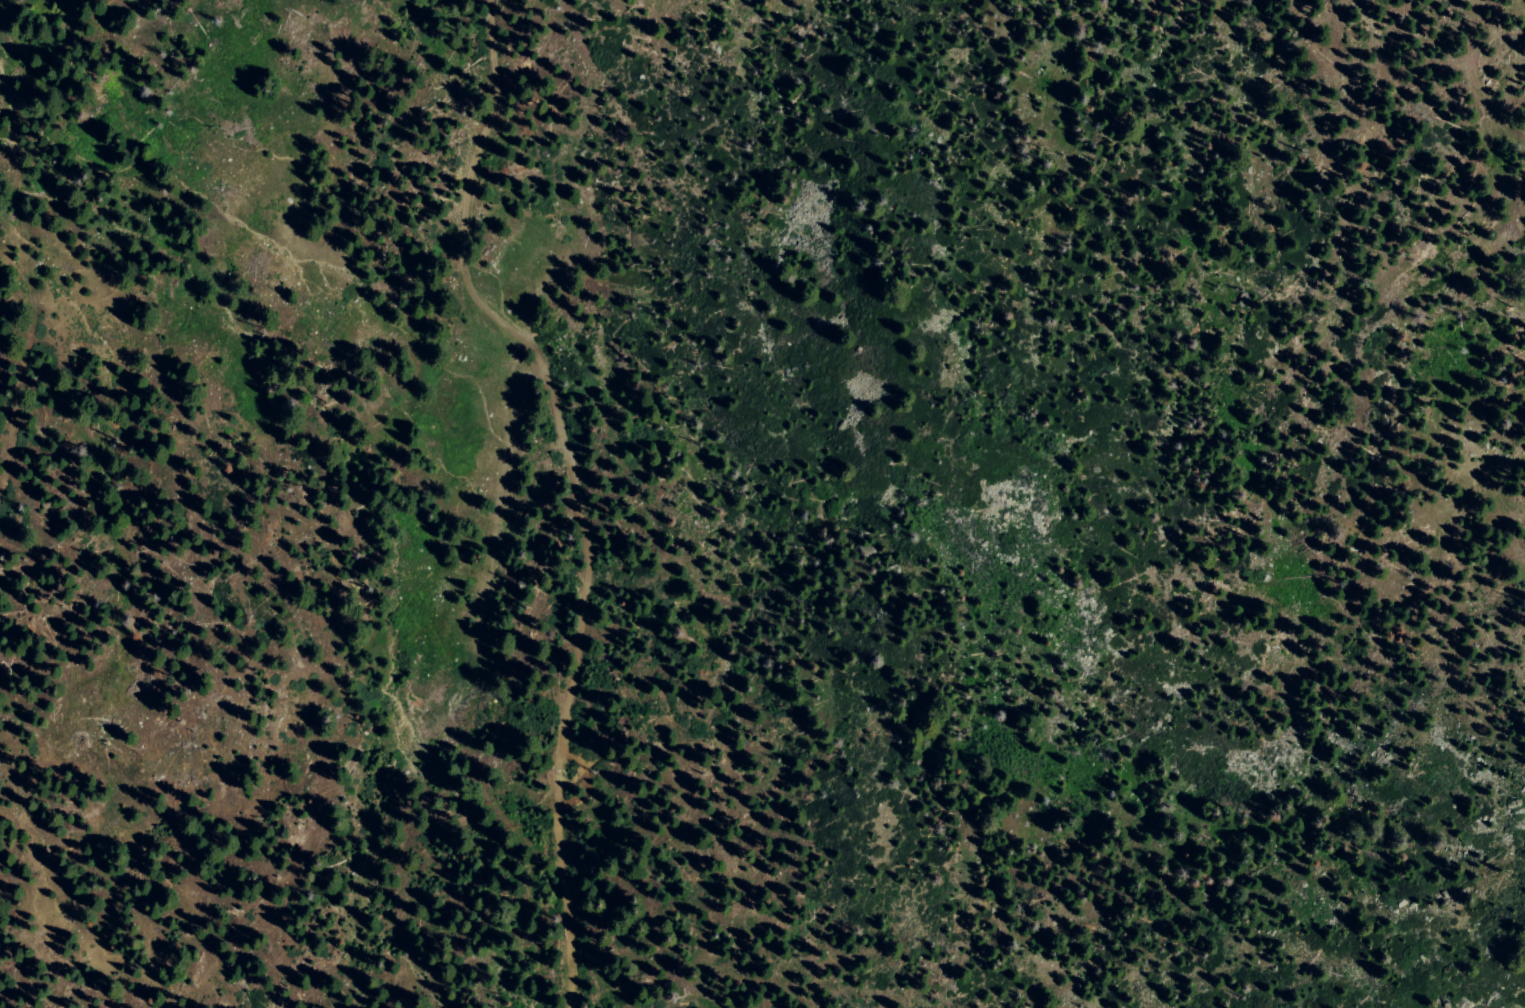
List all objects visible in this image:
road: (577, 486)
road: (499, 509)

